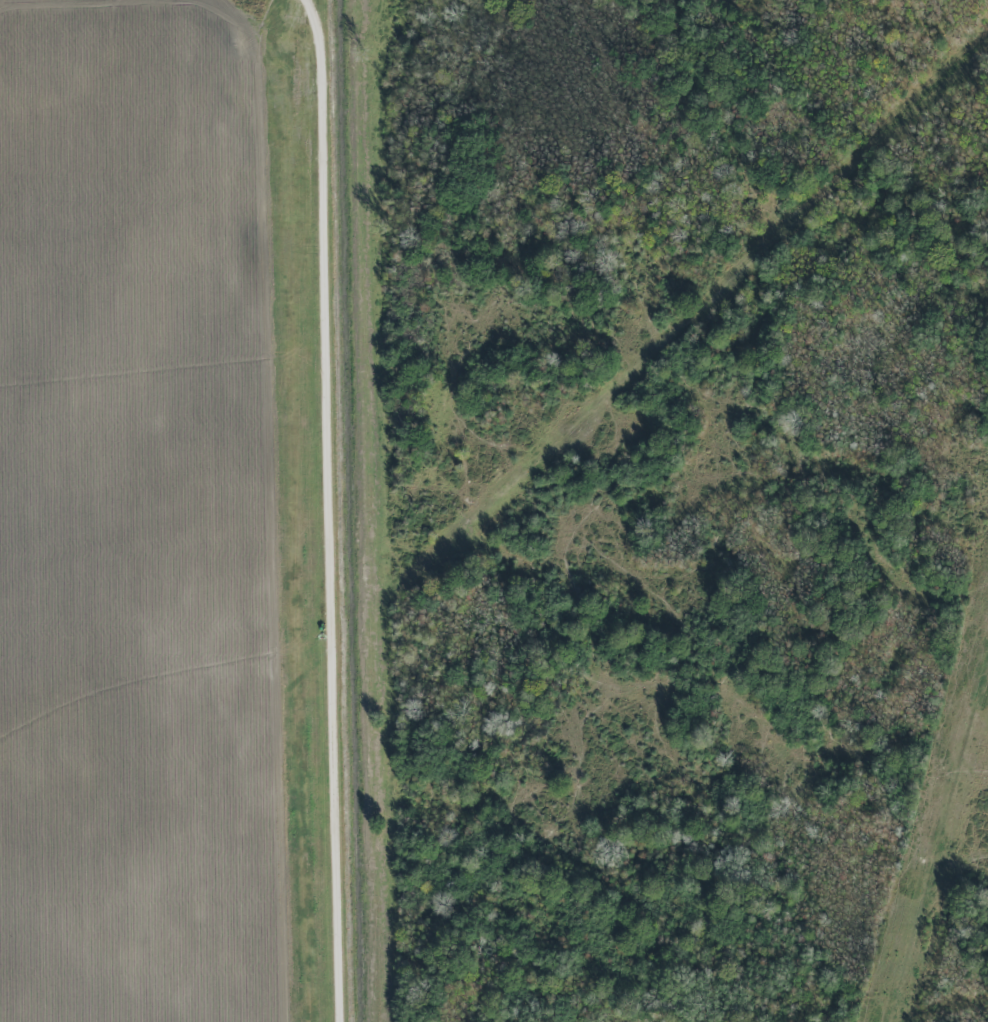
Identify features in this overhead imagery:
road: (335, 509)

